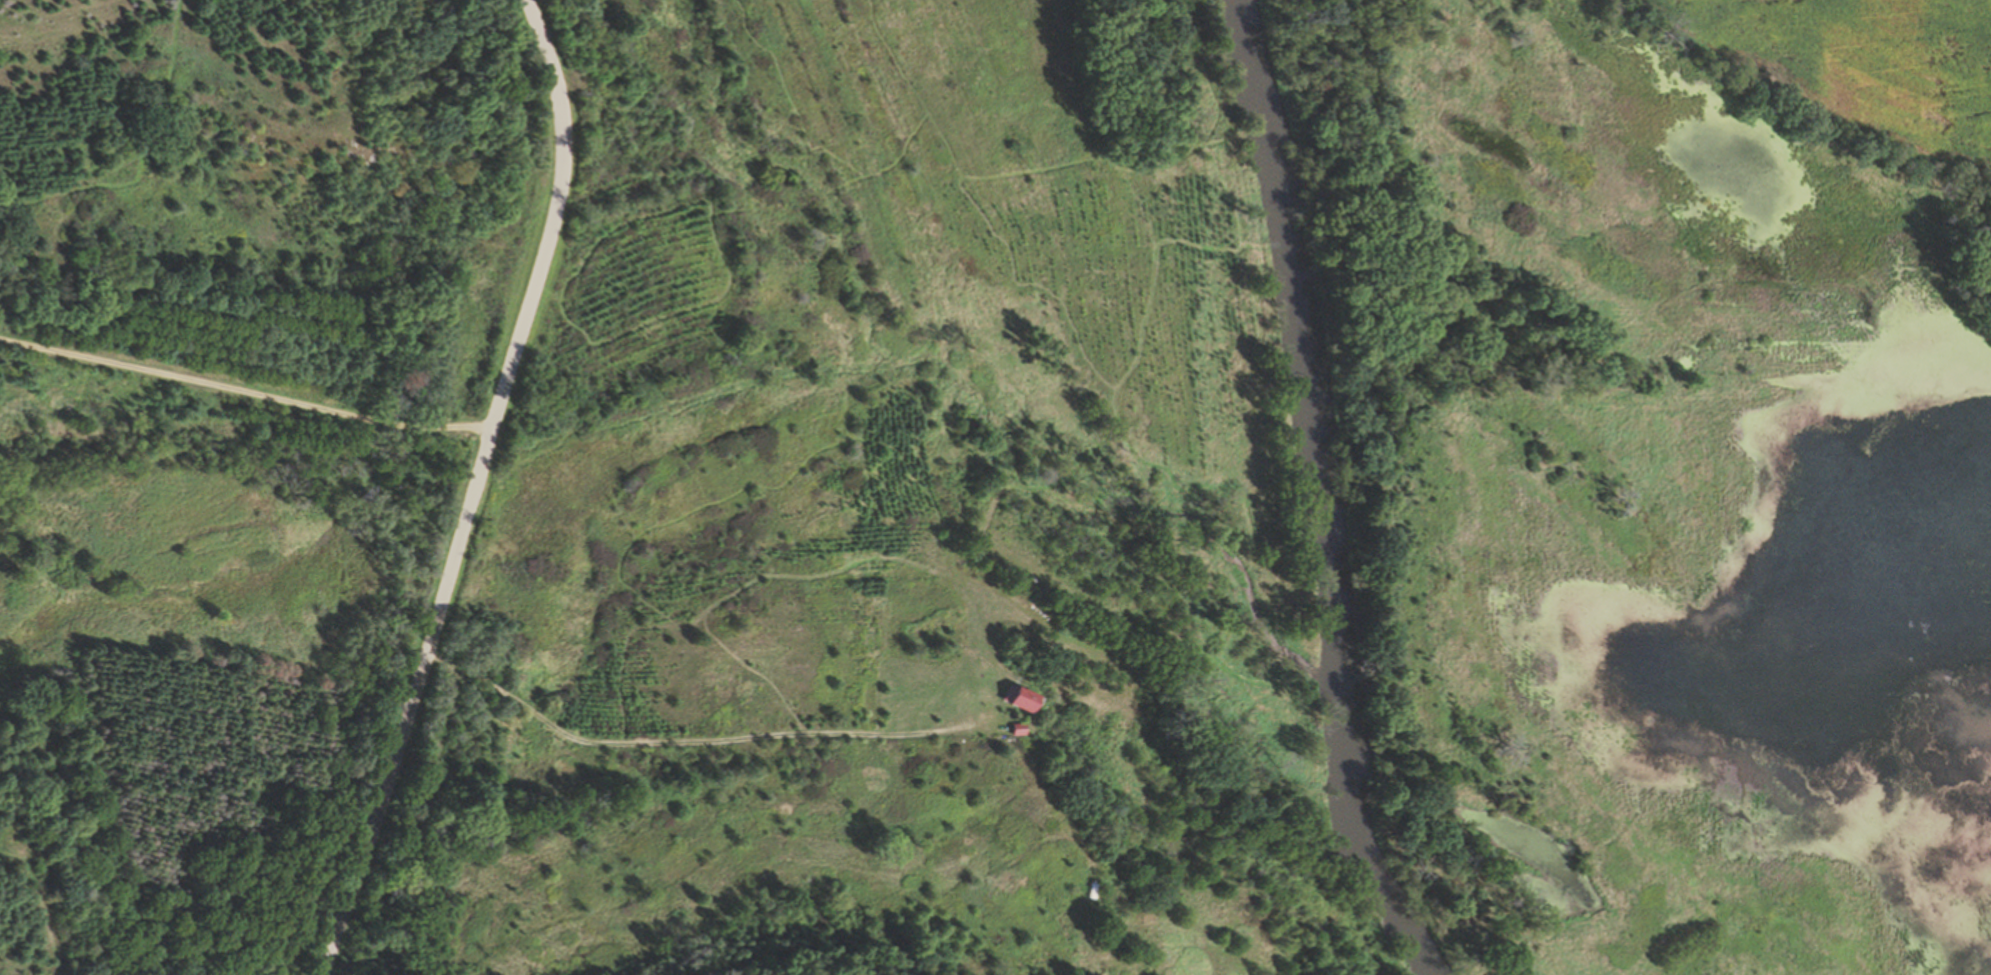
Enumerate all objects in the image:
road: (243, 391)
road: (471, 489)
river: (1332, 492)

